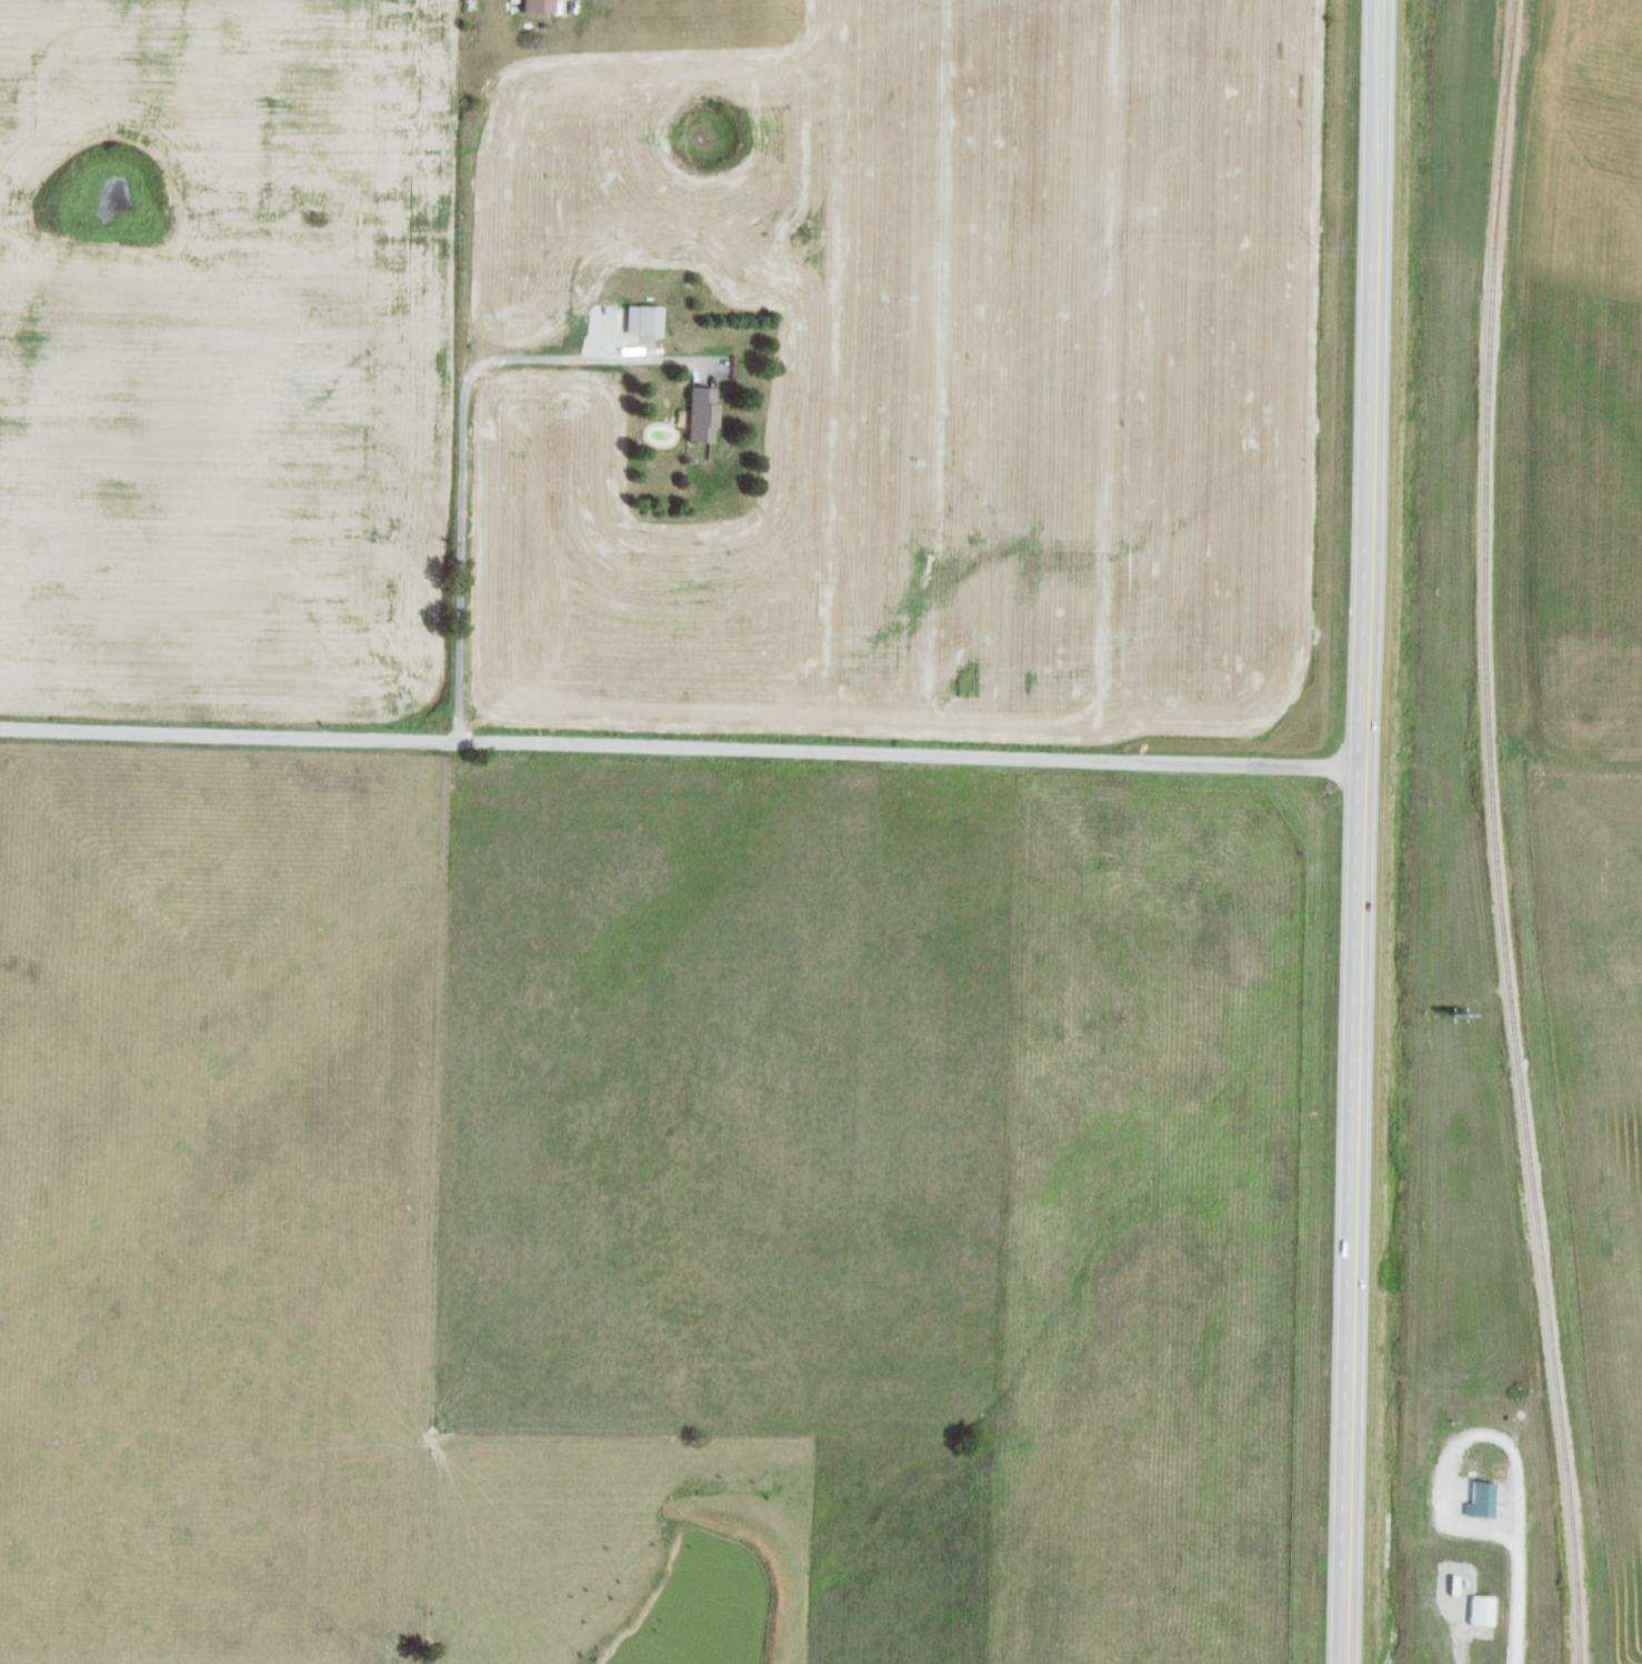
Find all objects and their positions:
building: (533, 6)
power tower: (307, 217)
power tower: (802, 232)
power tower: (1316, 247)
building: (640, 320)
building: (697, 414)
road: (457, 441)
road: (680, 748)
road: (1359, 832)
railway: (1491, 833)
building: (1478, 1500)
road: (1436, 1522)
road: (1508, 1601)
building: (1478, 1610)

